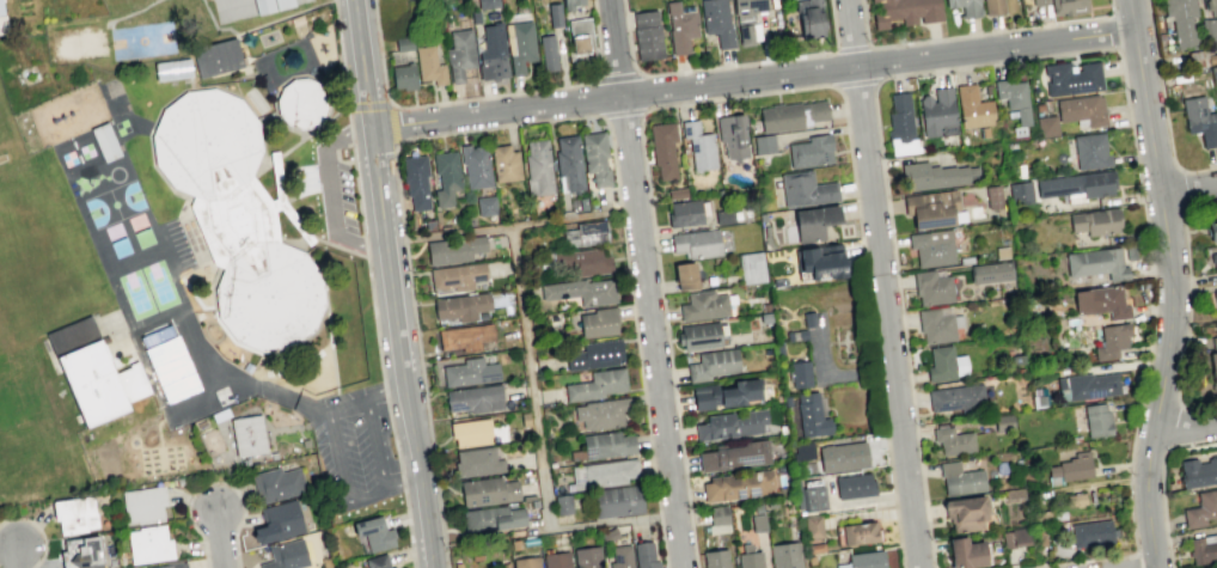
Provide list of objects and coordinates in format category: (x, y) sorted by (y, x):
building: (1039, 2)
building: (487, 4)
building: (570, 4)
building: (1210, 4)
building: (270, 6)
building: (965, 6)
building: (992, 6)
building: (1066, 6)
building: (905, 11)
building: (554, 14)
road: (1131, 14)
building: (475, 16)
building: (4, 17)
building: (808, 17)
building: (747, 19)
building: (1180, 19)
building: (716, 22)
building: (680, 25)
building: (1209, 30)
road: (973, 33)
building: (580, 35)
building: (647, 35)
park: (141, 39)
building: (403, 43)
building: (519, 44)
road: (851, 48)
building: (546, 53)
building: (459, 54)
building: (493, 54)
building: (1211, 57)
building: (218, 59)
road: (342, 60)
building: (429, 65)
road: (723, 66)
building: (172, 71)
building: (1213, 74)
road: (619, 75)
road: (756, 77)
building: (403, 78)
building: (1071, 78)
road: (857, 81)
road: (482, 97)
building: (1014, 102)
building: (301, 104)
road: (369, 105)
building: (972, 106)
road: (649, 109)
building: (1081, 109)
road: (622, 112)
building: (937, 112)
building: (790, 115)
building: (1199, 120)
road: (392, 126)
road: (497, 126)
building: (900, 126)
building: (1046, 126)
road: (351, 133)
building: (732, 135)
building: (763, 143)
building: (698, 145)
building: (662, 148)
building: (811, 151)
building: (1090, 151)
road: (275, 155)
building: (594, 158)
building: (503, 163)
building: (568, 164)
building: (475, 165)
building: (538, 167)
building: (930, 176)
building: (445, 177)
building: (415, 181)
building: (1077, 184)
road: (1188, 188)
building: (805, 189)
road: (326, 190)
road: (357, 190)
parking lot: (335, 191)
building: (1019, 193)
building: (677, 194)
building: (992, 196)
building: (582, 203)
building: (485, 204)
building: (932, 208)
road: (619, 212)
building: (684, 212)
building: (723, 215)
building: (236, 219)
building: (813, 221)
building: (1094, 221)
road: (514, 226)
building: (1212, 230)
building: (585, 233)
road: (404, 238)
building: (696, 244)
road: (336, 245)
road: (365, 246)
building: (931, 246)
building: (454, 249)
building: (1001, 251)
building: (1213, 259)
building: (589, 261)
building: (820, 261)
building: (1096, 263)
building: (751, 268)
building: (991, 271)
building: (684, 275)
road: (170, 276)
building: (457, 276)
building: (778, 282)
road: (397, 283)
road: (647, 283)
road: (882, 283)
building: (931, 286)
road: (139, 291)
building: (580, 291)
building: (1215, 297)
road: (1170, 298)
building: (1106, 301)
building: (702, 305)
building: (460, 306)
parking lot: (167, 310)
building: (808, 318)
building: (598, 322)
road: (170, 323)
building: (935, 324)
building: (155, 335)
building: (795, 335)
building: (464, 336)
building: (698, 336)
building: (1111, 340)
building: (778, 349)
building: (594, 355)
building: (1213, 362)
road: (638, 364)
building: (713, 364)
building: (944, 364)
building: (172, 372)
building: (469, 372)
road: (876, 372)
building: (800, 374)
road: (834, 374)
building: (94, 375)
road: (243, 384)
building: (595, 385)
building: (1085, 385)
building: (724, 393)
building: (956, 397)
road: (372, 398)
building: (473, 398)
building: (785, 401)
road: (426, 405)
road: (389, 413)
building: (600, 414)
building: (811, 415)
building: (524, 419)
building: (1096, 420)
building: (1003, 422)
building: (730, 425)
road: (1186, 426)
building: (470, 432)
building: (244, 436)
building: (953, 440)
road: (538, 441)
building: (606, 444)
road: (373, 448)
parking lot: (355, 450)
building: (801, 451)
building: (734, 456)
building: (842, 457)
building: (476, 462)
building: (1071, 466)
road: (345, 471)
building: (1198, 472)
building: (610, 474)
road: (891, 475)
building: (960, 478)
road: (213, 481)
building: (281, 484)
building: (736, 485)
building: (854, 485)
road: (403, 489)
building: (488, 490)
building: (1013, 493)
building: (813, 497)
building: (1075, 499)
building: (616, 501)
building: (562, 503)
building: (151, 507)
road: (1162, 507)
building: (1200, 508)
building: (965, 512)
road: (658, 514)
building: (82, 517)
building: (491, 518)
building: (717, 519)
building: (283, 523)
building: (757, 523)
building: (812, 526)
road: (38, 527)
building: (858, 532)
building: (1090, 532)
building: (607, 535)
building: (381, 537)
building: (1015, 537)
road: (221, 538)
building: (148, 544)
road: (661, 544)
building: (814, 548)
building: (1203, 549)
building: (965, 552)
building: (90, 554)
building: (644, 555)
building: (784, 555)
road: (16, 556)
building: (286, 556)
building: (586, 557)
building: (620, 557)
building: (748, 557)
building: (715, 558)
building: (555, 560)
building: (863, 560)
building: (375, 561)
building: (525, 562)
road: (328, 564)
building: (504, 564)
building: (179, 567)
building: (392, 567)

